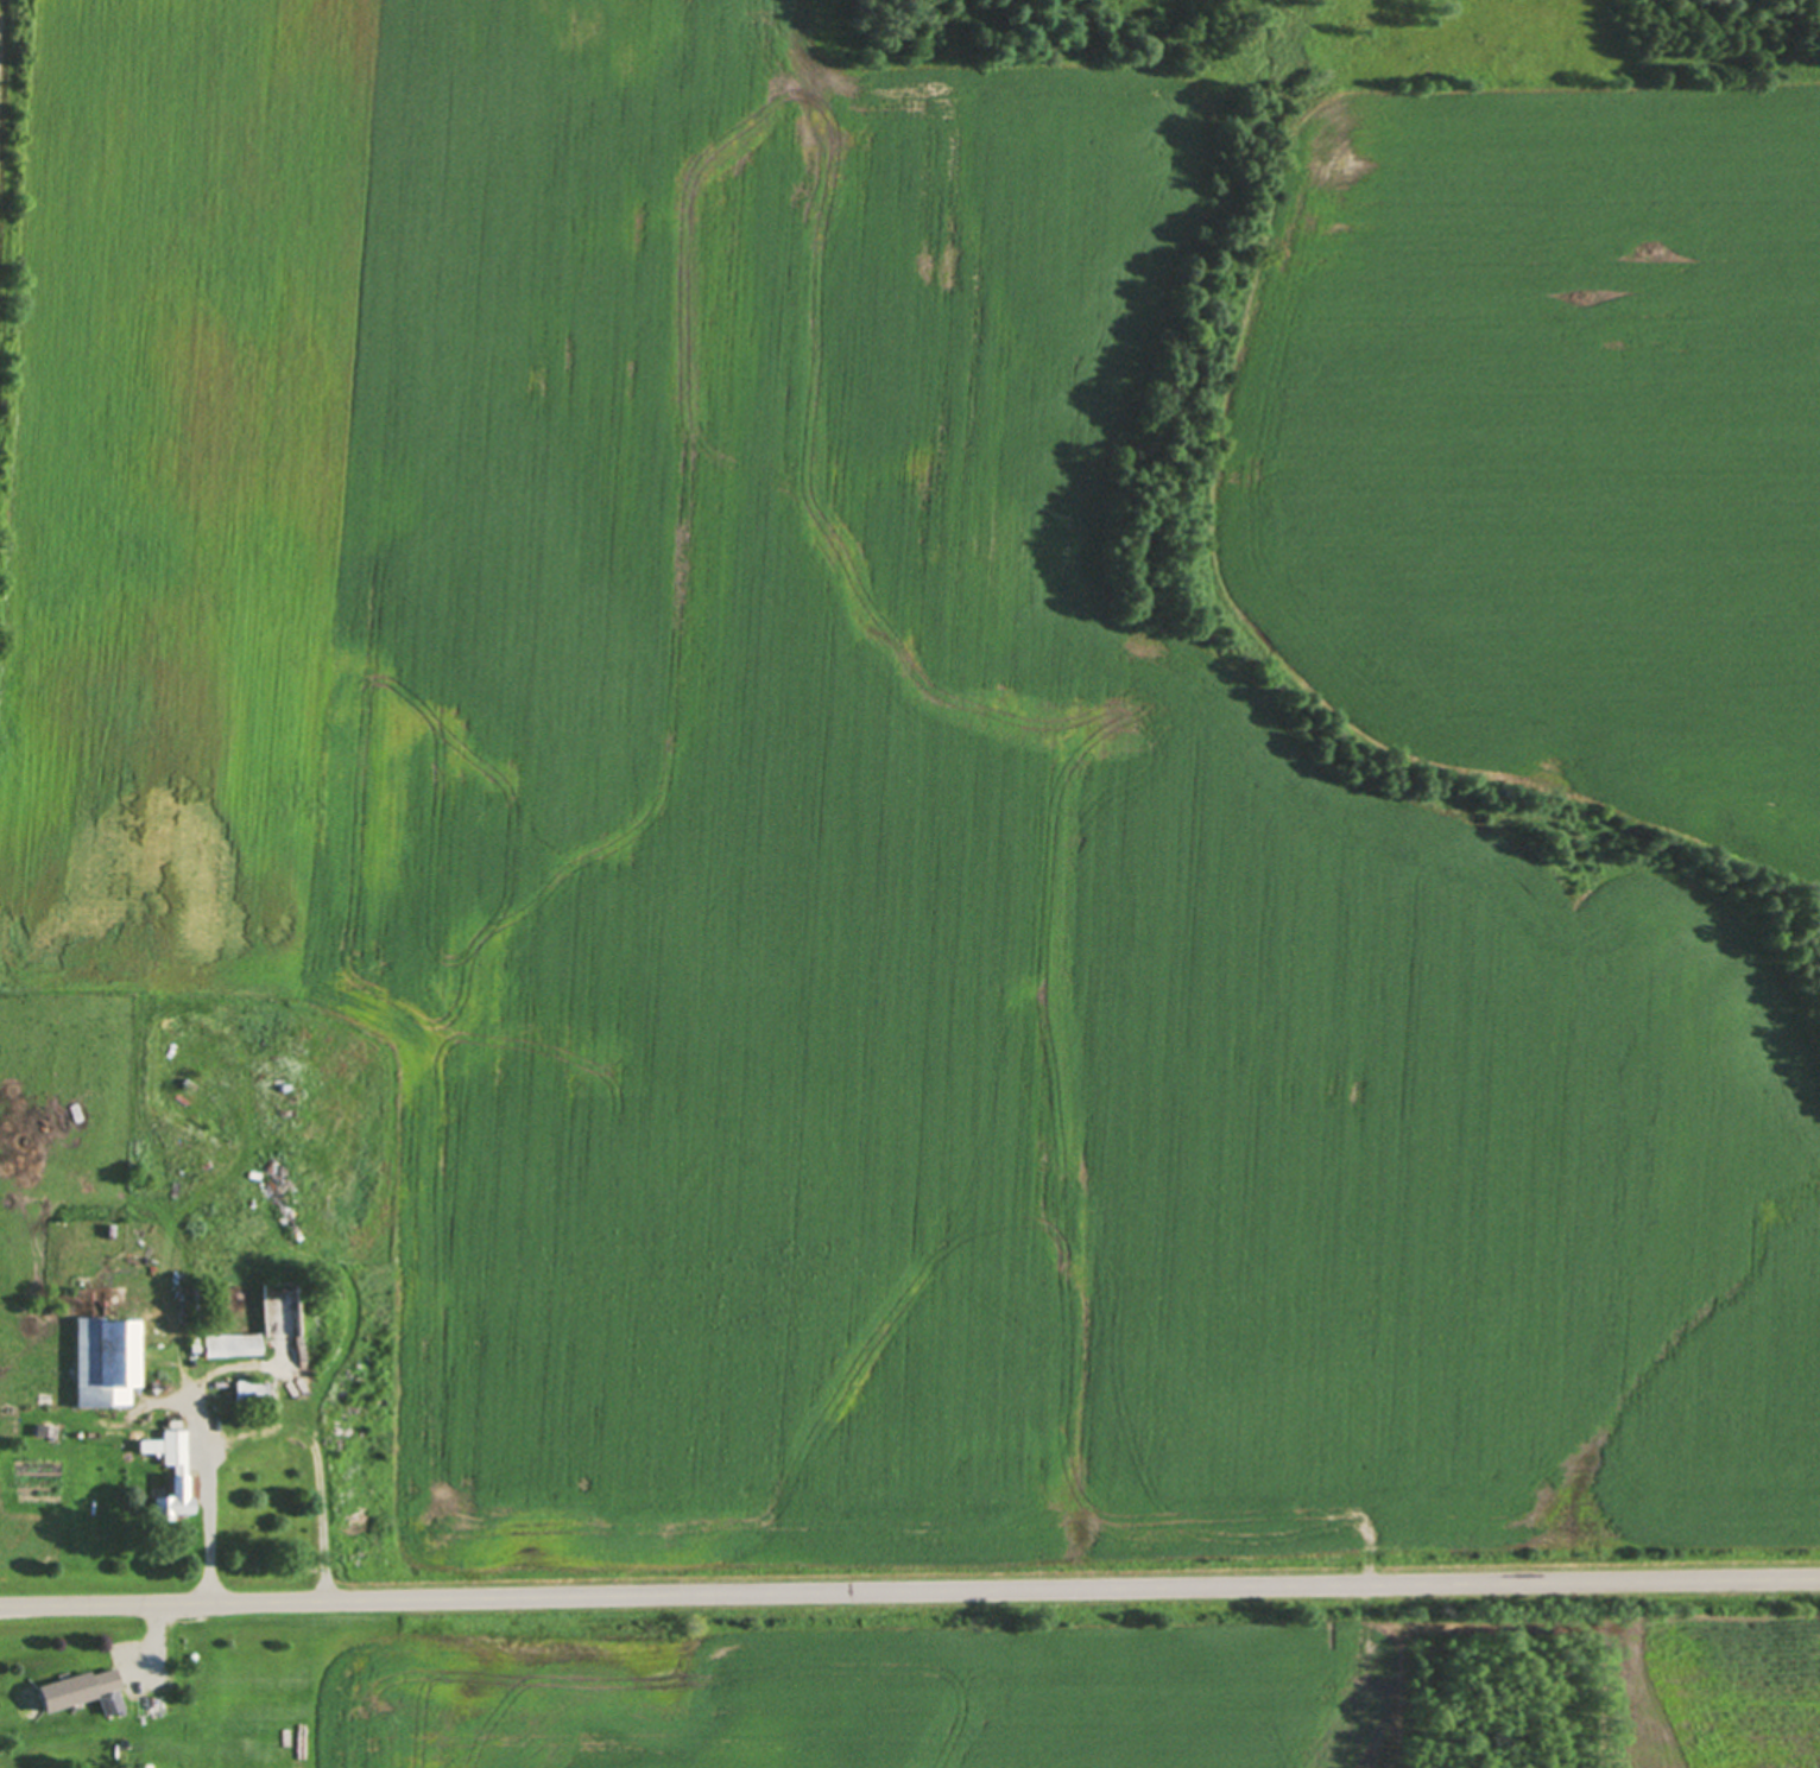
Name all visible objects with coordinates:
building: (194, 1299)
building: (192, 1341)
building: (232, 1342)
building: (103, 1357)
building: (248, 1388)
building: (266, 1411)
building: (171, 1472)
road: (910, 1595)
building: (101, 1692)
building: (148, 1702)
building: (146, 1766)

